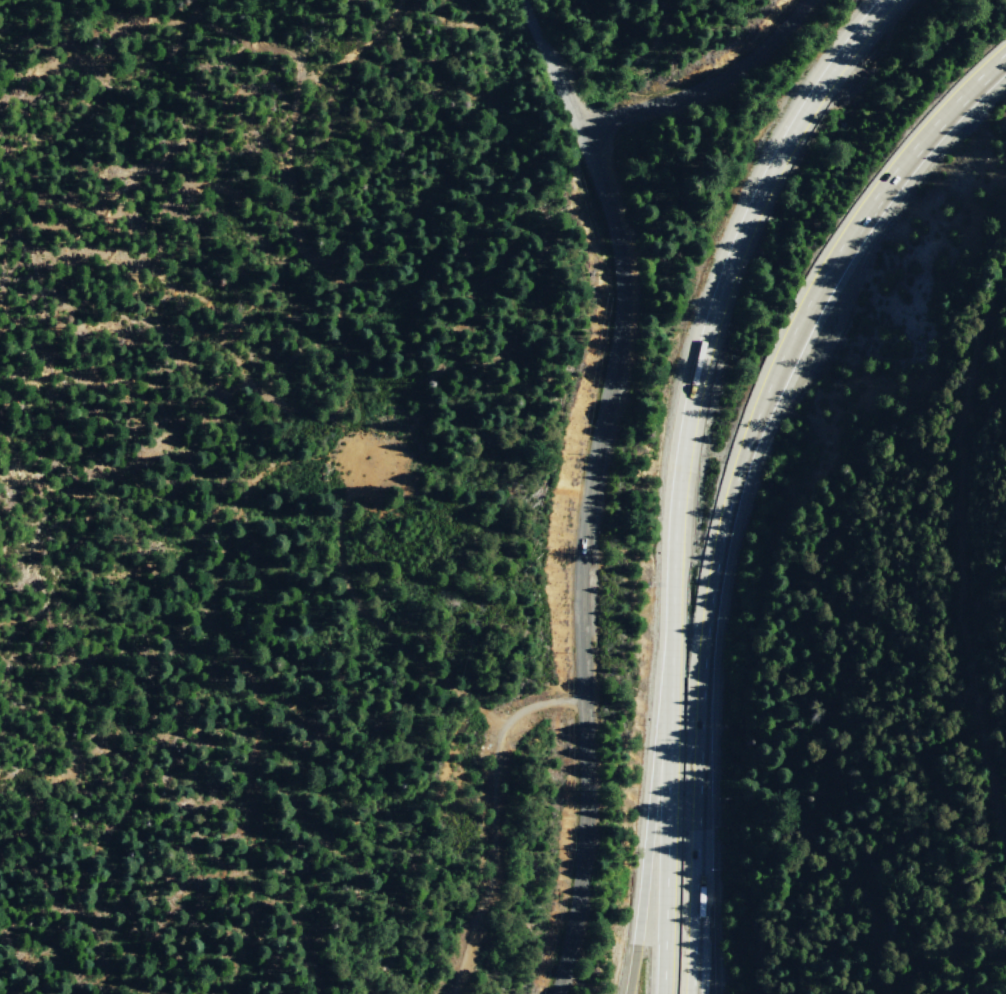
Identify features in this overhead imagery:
road: (523, 1)
road: (535, 35)
road: (706, 87)
road: (565, 98)
road: (904, 156)
road: (679, 472)
road: (579, 558)
road: (707, 625)
road: (643, 858)
road: (702, 942)

